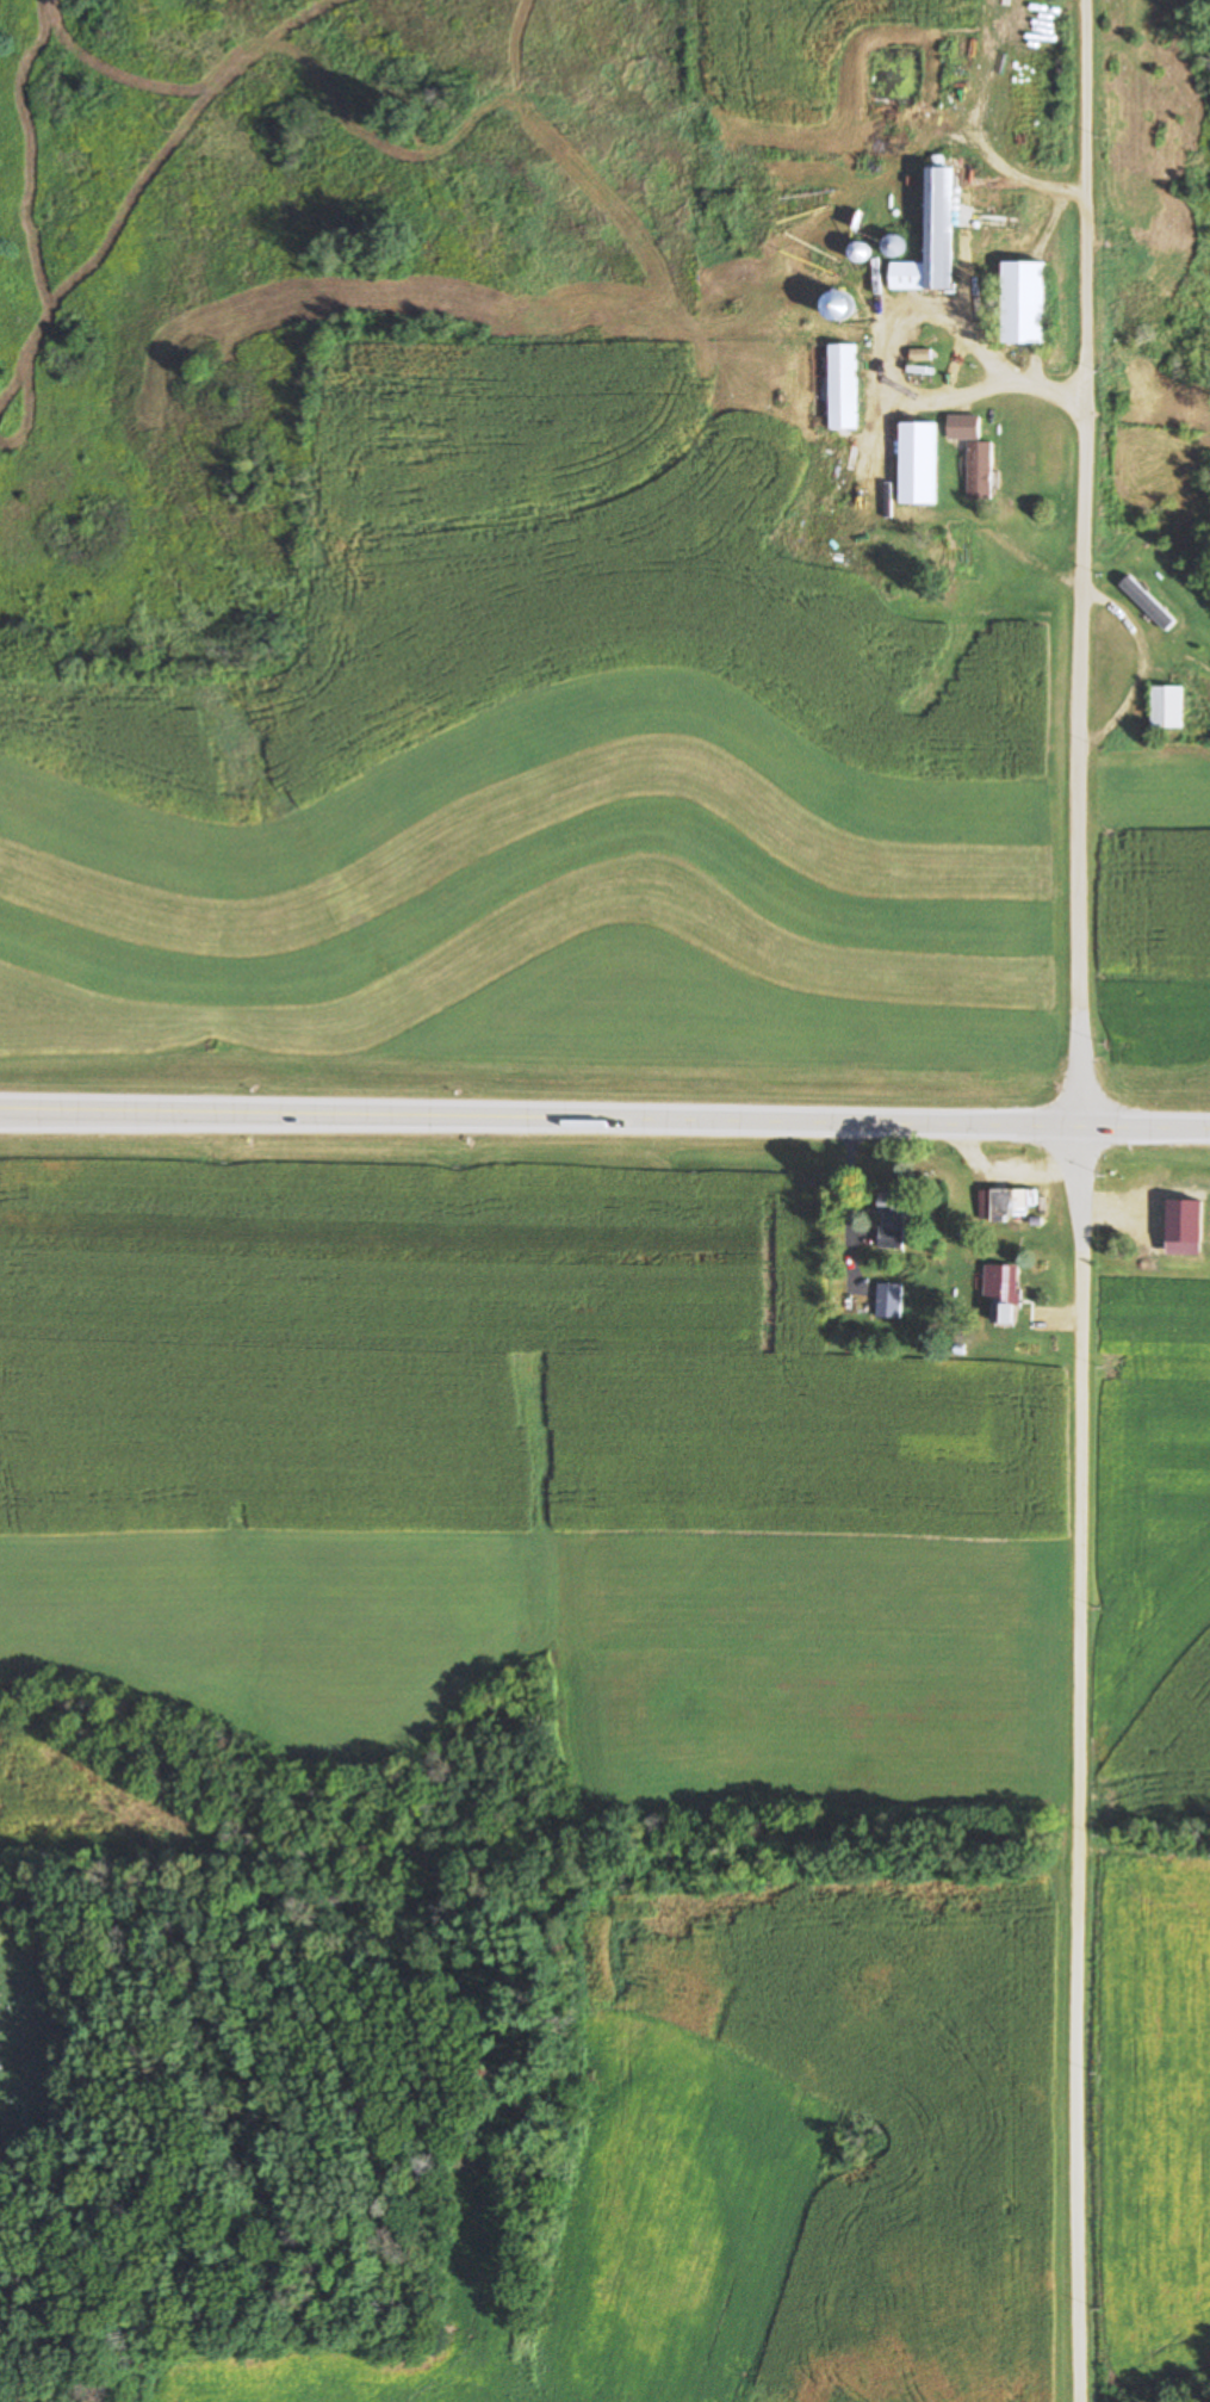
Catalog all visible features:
building: (931, 241)
building: (1023, 304)
building: (843, 388)
building: (963, 428)
building: (1023, 453)
building: (923, 470)
building: (980, 472)
road: (1081, 559)
building: (1149, 605)
building: (1167, 707)
road: (604, 1110)
building: (1011, 1203)
building: (1146, 1218)
building: (893, 1220)
building: (1005, 1298)
building: (889, 1301)
road: (1082, 1491)
road: (1080, 2131)

